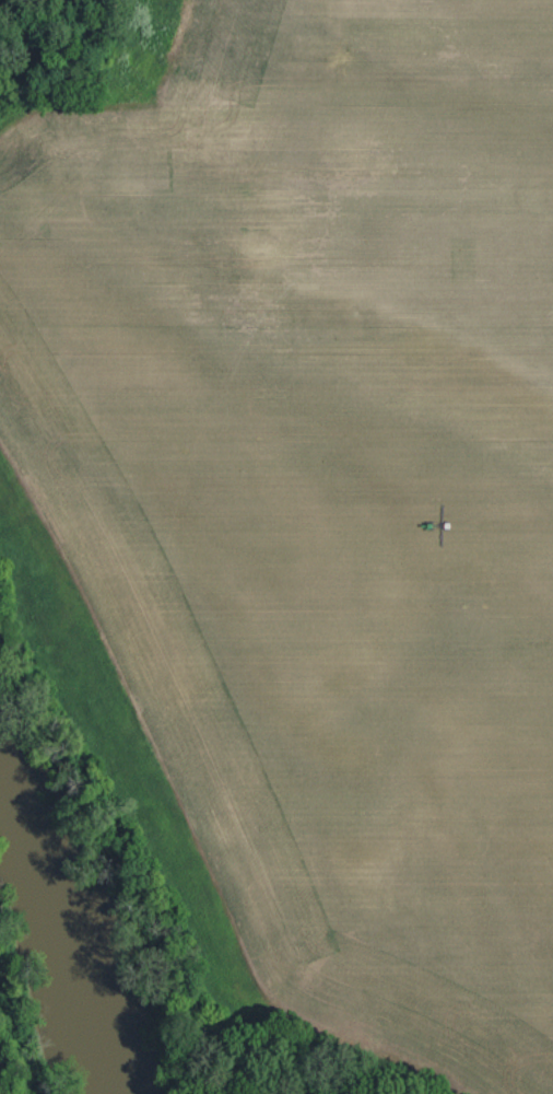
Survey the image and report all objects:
river: (80, 936)

